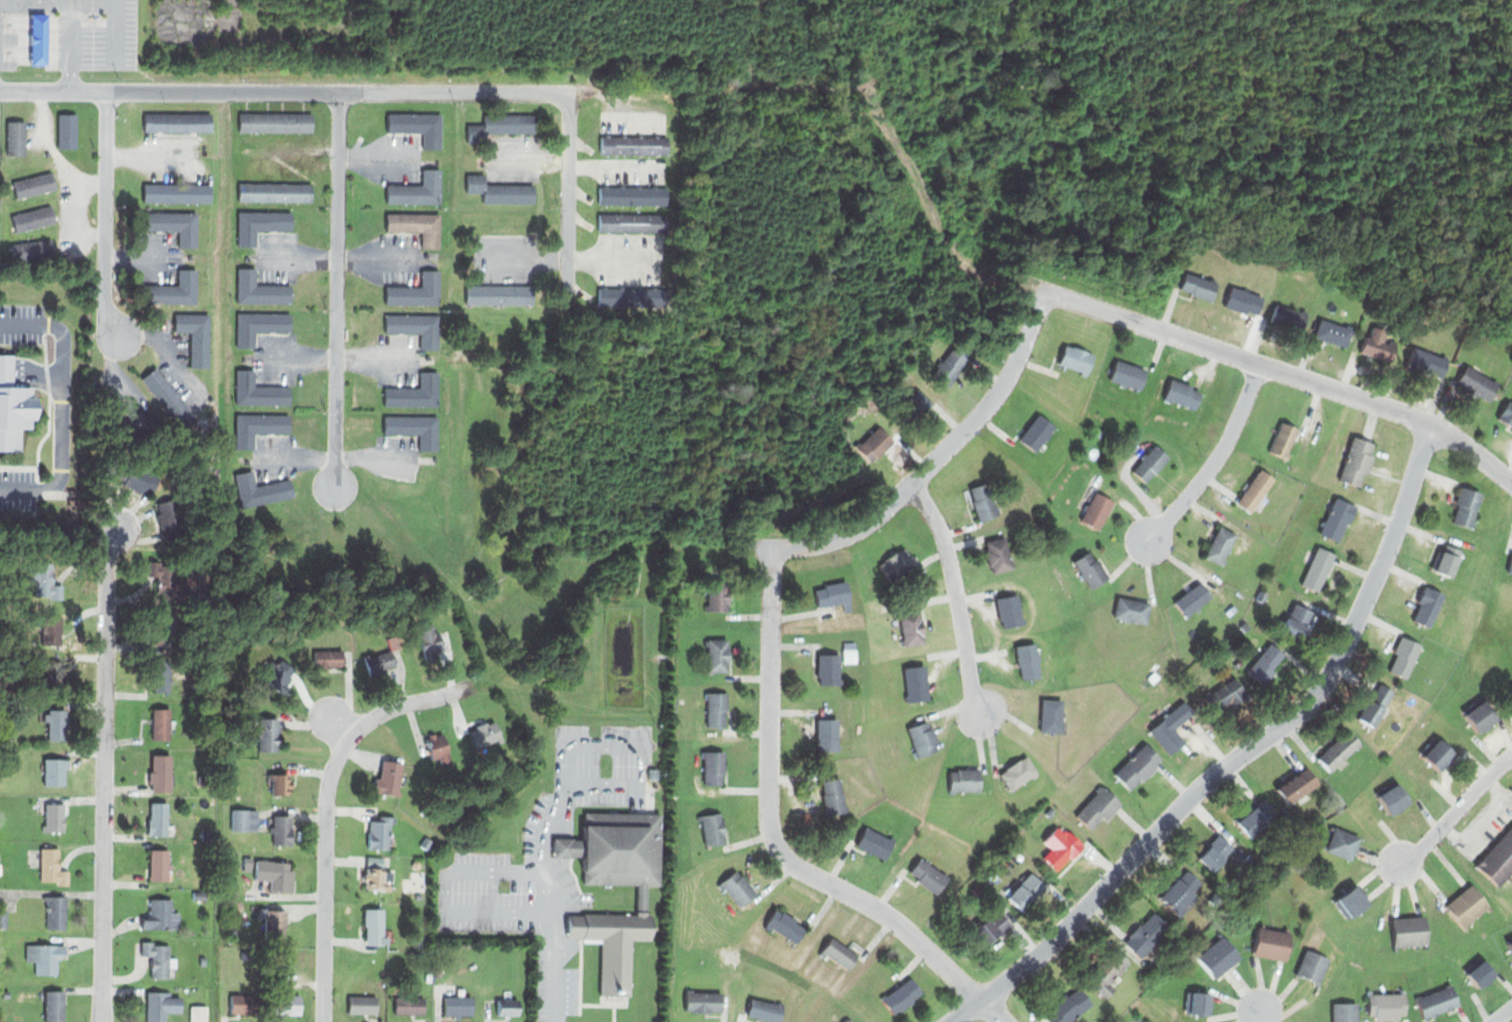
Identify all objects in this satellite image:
building: (39, 39)
road: (283, 92)
building: (177, 121)
building: (276, 121)
building: (500, 125)
building: (418, 126)
building: (68, 130)
building: (16, 136)
building: (633, 145)
building: (33, 184)
building: (417, 189)
building: (274, 190)
building: (499, 190)
building: (176, 192)
road: (568, 193)
building: (632, 193)
building: (32, 217)
road: (105, 217)
building: (632, 221)
building: (173, 224)
building: (260, 224)
building: (418, 226)
building: (31, 248)
building: (1198, 285)
building: (259, 289)
road: (337, 289)
building: (171, 290)
building: (415, 291)
building: (500, 294)
building: (629, 296)
building: (1241, 299)
building: (1289, 319)
building: (259, 325)
building: (416, 327)
building: (1333, 332)
building: (194, 334)
building: (1378, 343)
building: (1076, 358)
building: (1426, 362)
road: (114, 364)
building: (950, 367)
road: (1284, 372)
building: (1127, 375)
building: (1477, 384)
building: (258, 391)
building: (415, 393)
building: (1183, 394)
building: (169, 399)
building: (918, 403)
building: (13, 406)
building: (1507, 414)
building: (137, 423)
building: (257, 425)
building: (414, 427)
building: (1037, 434)
building: (886, 438)
building: (1283, 439)
road: (940, 455)
road: (1215, 457)
building: (1356, 460)
building: (1150, 462)
building: (135, 478)
building: (1299, 485)
building: (261, 489)
building: (1253, 490)
building: (983, 501)
building: (1467, 508)
building: (1096, 509)
building: (169, 516)
building: (1336, 518)
building: (1220, 543)
building: (997, 555)
building: (1447, 560)
building: (898, 563)
building: (1510, 564)
building: (1317, 567)
building: (1090, 568)
building: (164, 578)
building: (45, 579)
building: (832, 593)
building: (719, 594)
road: (955, 594)
building: (1260, 595)
building: (1191, 598)
building: (1427, 606)
building: (1008, 610)
building: (1132, 610)
building: (1214, 618)
building: (850, 621)
building: (1298, 622)
building: (165, 624)
building: (911, 624)
building: (1241, 625)
building: (59, 628)
building: (430, 641)
building: (849, 643)
building: (717, 655)
building: (850, 655)
building: (382, 656)
building: (1404, 657)
building: (328, 658)
building: (1028, 661)
building: (1267, 662)
building: (827, 670)
building: (161, 671)
building: (278, 673)
building: (60, 674)
building: (916, 682)
building: (1511, 689)
building: (1226, 694)
building: (1376, 704)
building: (717, 709)
building: (1481, 713)
building: (1053, 714)
building: (162, 723)
building: (56, 725)
road: (339, 725)
building: (1171, 728)
building: (268, 733)
building: (485, 733)
building: (827, 734)
building: (923, 738)
road: (1254, 743)
building: (438, 747)
building: (1340, 748)
building: (1439, 753)
building: (1136, 766)
building: (715, 767)
building: (56, 770)
road: (104, 772)
building: (162, 772)
building: (1018, 772)
building: (652, 773)
building: (387, 779)
building: (964, 779)
building: (279, 781)
building: (1297, 784)
building: (833, 794)
building: (1392, 798)
road: (325, 807)
building: (1097, 807)
road: (1456, 810)
building: (1049, 811)
building: (53, 817)
building: (1256, 817)
building: (157, 820)
building: (244, 821)
road: (769, 825)
building: (281, 829)
building: (713, 829)
building: (380, 832)
building: (205, 833)
building: (424, 842)
building: (874, 843)
building: (1342, 843)
building: (1062, 846)
building: (1011, 847)
building: (1215, 853)
building: (1497, 862)
building: (158, 865)
building: (52, 866)
building: (273, 871)
building: (928, 875)
building: (375, 878)
building: (615, 882)
building: (738, 888)
building: (1183, 888)
building: (975, 890)
building: (1026, 892)
building: (199, 894)
building: (1352, 902)
building: (1467, 905)
building: (55, 912)
building: (161, 915)
building: (3, 919)
building: (273, 921)
building: (374, 926)
building: (786, 927)
building: (992, 928)
building: (1408, 931)
building: (1145, 933)
building: (230, 940)
building: (1272, 944)
building: (1510, 945)
building: (839, 954)
building: (1217, 956)
building: (48, 959)
building: (158, 960)
building: (202, 960)
building: (1311, 965)
building: (1109, 971)
building: (1482, 972)
building: (5, 993)
building: (901, 995)
building: (1437, 999)
building: (703, 1001)
building: (1199, 1001)
building: (243, 1004)
building: (286, 1004)
building: (362, 1004)
building: (458, 1005)
building: (1387, 1005)
building: (54, 1006)
building: (159, 1006)
building: (409, 1006)
building: (508, 1006)
building: (1069, 1006)
building: (764, 1009)
road: (965, 1010)
road: (992, 1010)
building: (1345, 1012)
road: (1503, 1015)
road: (1260, 1017)
building: (848, 1020)

